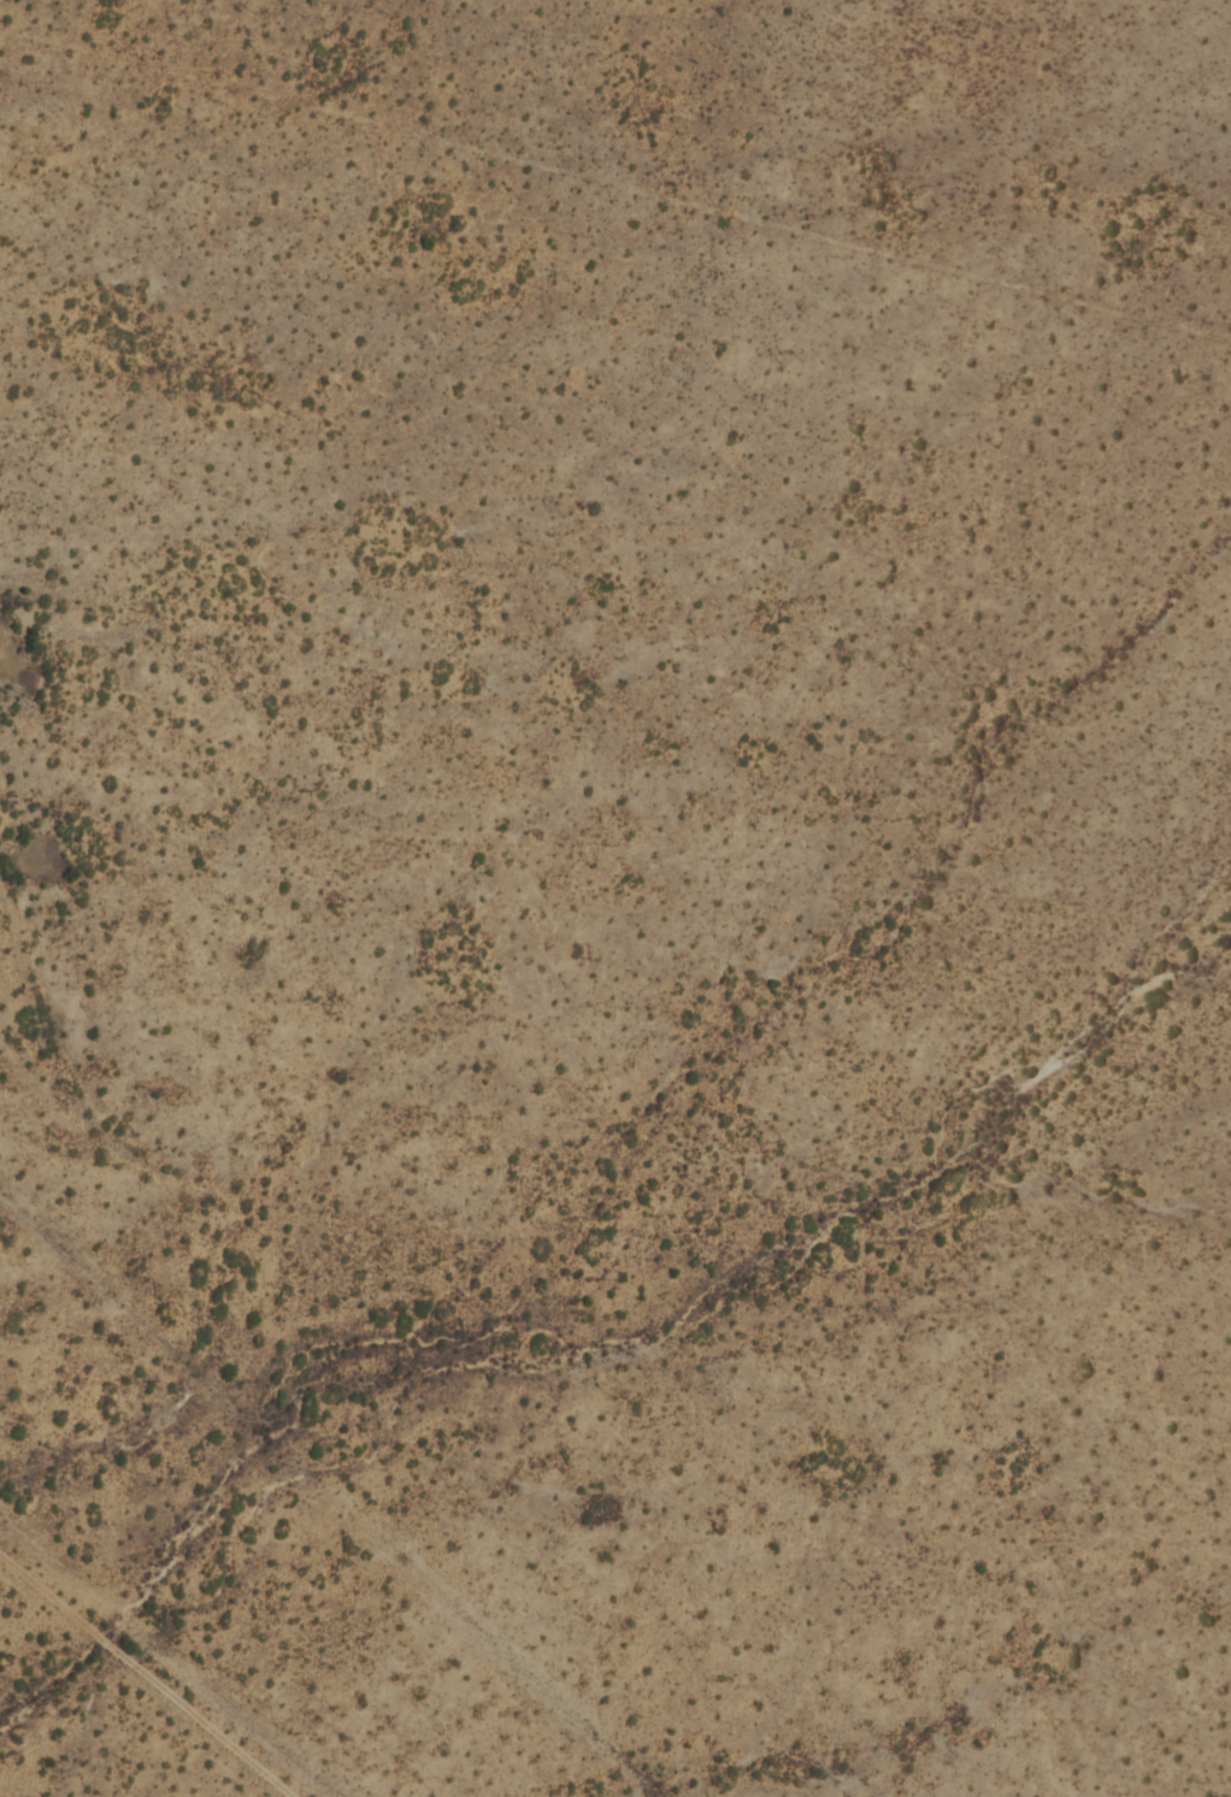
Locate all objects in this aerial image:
road: (353, 1431)

